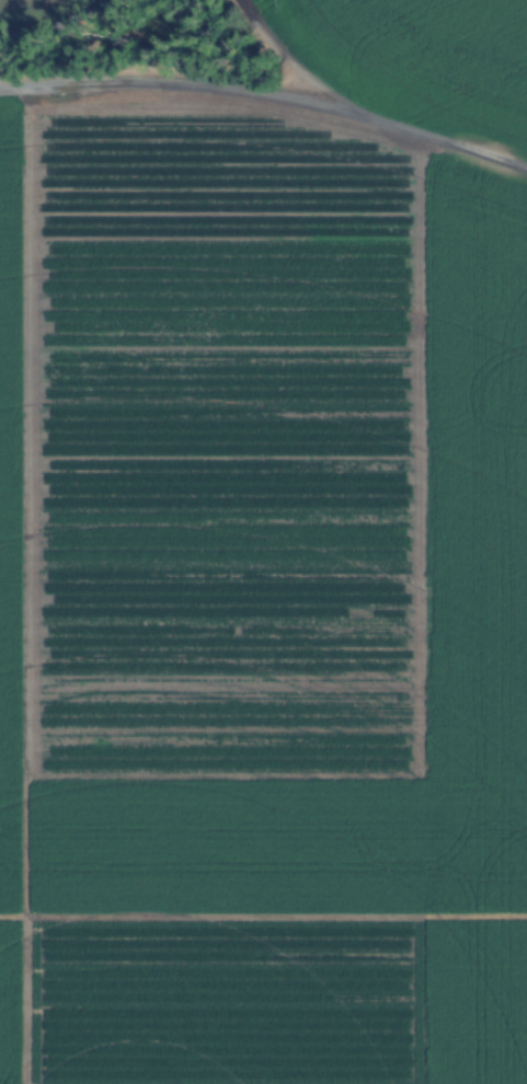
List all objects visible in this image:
crop: (260, 608)

